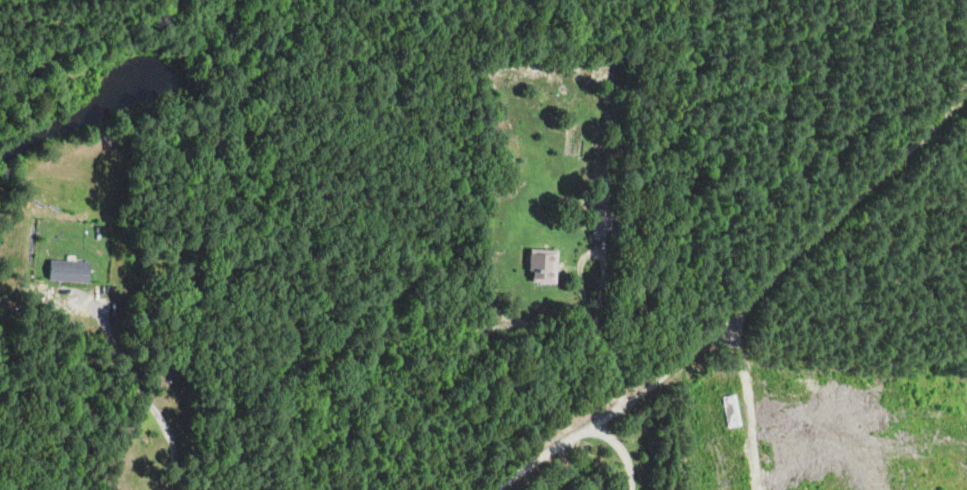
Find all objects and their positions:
building: (603, 221)
building: (545, 264)
building: (70, 270)
road: (581, 285)
road: (740, 308)
road: (147, 386)
road: (618, 449)

